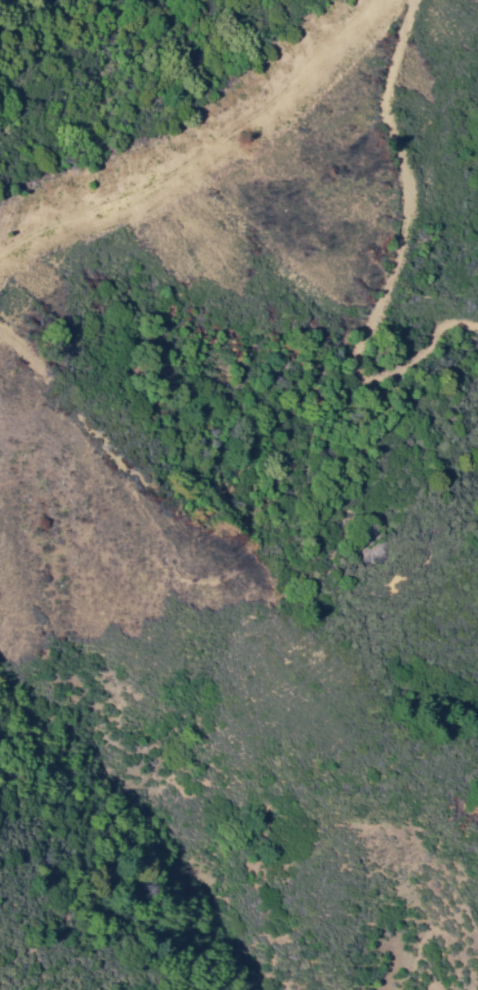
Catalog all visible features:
road: (347, 44)
road: (152, 185)
road: (398, 230)

